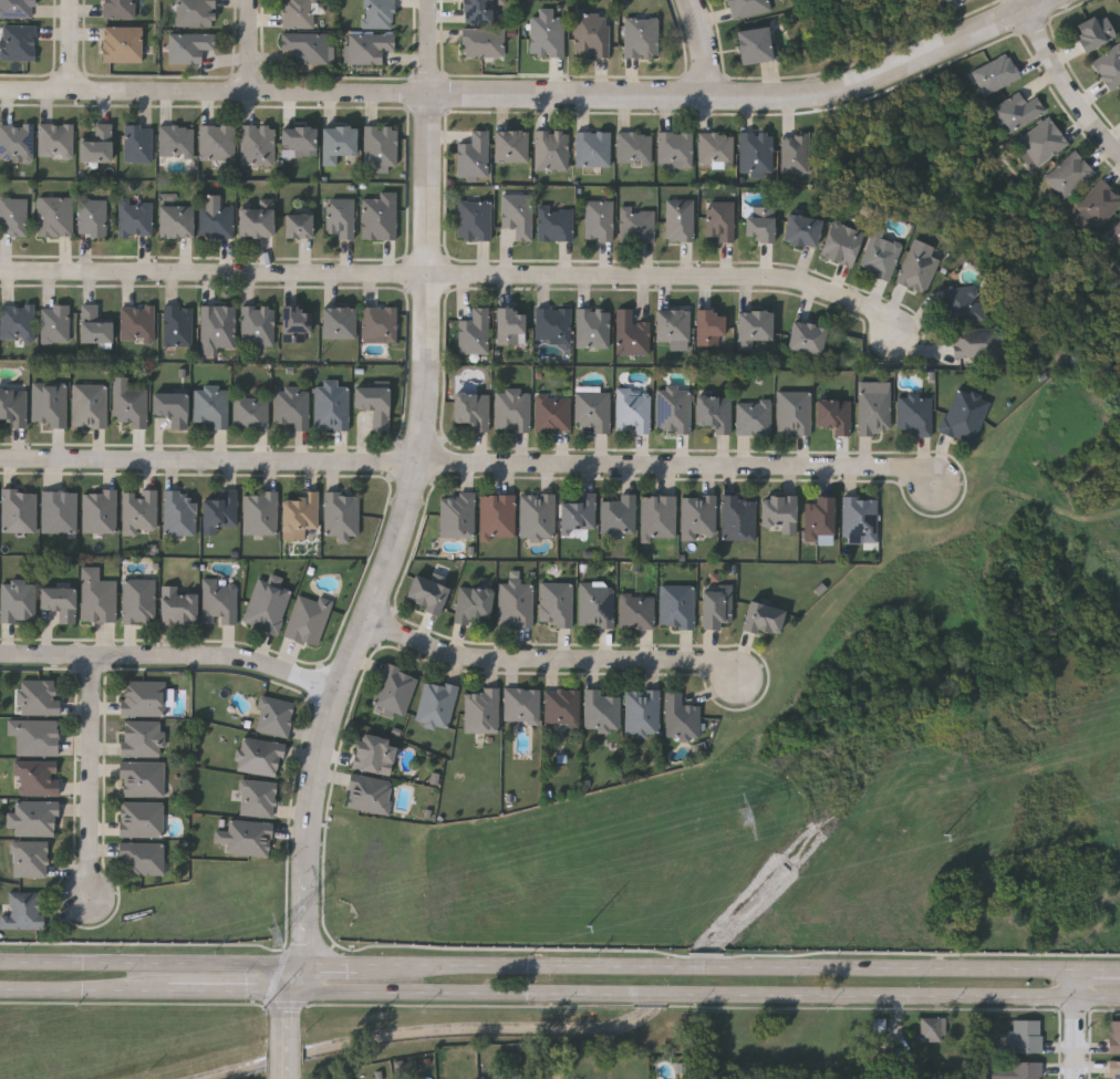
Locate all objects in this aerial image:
building: (954, 2)
building: (746, 7)
building: (17, 8)
building: (120, 8)
building: (477, 10)
building: (195, 12)
building: (299, 13)
building: (377, 13)
building: (591, 32)
building: (1095, 32)
building: (547, 35)
building: (641, 37)
building: (19, 41)
building: (483, 41)
building: (121, 42)
building: (754, 43)
building: (188, 45)
building: (307, 45)
road: (251, 46)
building: (367, 46)
road: (76, 49)
road: (708, 49)
building: (1109, 66)
building: (995, 74)
road: (1067, 81)
building: (1119, 94)
road: (537, 98)
building: (1016, 112)
road: (431, 136)
building: (298, 137)
building: (55, 139)
building: (176, 139)
building: (15, 141)
building: (217, 141)
building: (138, 142)
building: (336, 142)
building: (96, 143)
building: (258, 143)
building: (1040, 143)
building: (381, 145)
building: (511, 145)
building: (634, 146)
building: (674, 146)
building: (593, 147)
building: (552, 148)
building: (715, 148)
building: (756, 151)
building: (795, 151)
building: (473, 154)
building: (1068, 174)
building: (1098, 203)
building: (518, 214)
building: (13, 215)
building: (55, 215)
building: (378, 215)
building: (92, 216)
building: (135, 216)
building: (340, 216)
building: (474, 218)
building: (598, 218)
building: (680, 218)
building: (720, 218)
building: (176, 219)
building: (216, 219)
building: (256, 221)
building: (759, 221)
building: (556, 222)
building: (636, 222)
building: (298, 224)
building: (800, 228)
building: (1114, 232)
building: (840, 241)
building: (879, 253)
building: (916, 268)
road: (456, 274)
building: (962, 302)
building: (18, 321)
building: (339, 321)
building: (54, 322)
building: (137, 322)
building: (295, 322)
building: (378, 322)
building: (178, 323)
building: (258, 323)
building: (673, 323)
building: (93, 324)
building: (510, 324)
building: (552, 324)
building: (216, 326)
building: (592, 326)
building: (709, 326)
building: (753, 326)
building: (475, 330)
building: (631, 333)
building: (806, 335)
building: (975, 341)
building: (49, 403)
building: (374, 403)
building: (90, 404)
building: (13, 405)
building: (131, 405)
building: (211, 405)
building: (292, 405)
building: (331, 405)
building: (172, 406)
building: (470, 408)
building: (512, 409)
building: (592, 409)
building: (673, 409)
building: (251, 411)
building: (552, 411)
building: (633, 411)
building: (795, 411)
building: (874, 411)
building: (714, 412)
building: (914, 412)
building: (833, 413)
building: (965, 414)
building: (753, 416)
road: (469, 464)
building: (20, 509)
building: (100, 509)
building: (220, 509)
building: (60, 510)
building: (139, 510)
building: (179, 511)
building: (260, 511)
building: (779, 511)
building: (579, 512)
building: (301, 513)
building: (341, 513)
building: (457, 513)
building: (497, 515)
building: (537, 515)
building: (619, 515)
building: (658, 515)
building: (698, 515)
building: (738, 516)
building: (819, 517)
building: (860, 517)
building: (426, 593)
building: (96, 594)
building: (18, 600)
building: (139, 600)
building: (60, 601)
building: (218, 601)
building: (267, 602)
building: (473, 602)
building: (516, 602)
building: (556, 603)
building: (177, 604)
building: (597, 604)
building: (676, 605)
building: (716, 605)
building: (636, 611)
building: (308, 618)
building: (763, 618)
road: (367, 619)
road: (172, 656)
road: (554, 660)
building: (395, 687)
building: (39, 695)
building: (143, 697)
building: (436, 703)
building: (521, 704)
building: (561, 705)
building: (481, 709)
building: (601, 709)
building: (642, 712)
building: (274, 714)
building: (681, 717)
building: (35, 735)
building: (142, 736)
building: (374, 753)
building: (260, 755)
building: (37, 777)
building: (142, 777)
road: (93, 781)
building: (369, 792)
building: (257, 797)
building: (33, 817)
building: (141, 817)
power tower: (744, 818)
building: (246, 836)
building: (142, 857)
building: (30, 858)
building: (24, 910)
road: (152, 961)
road: (331, 963)
road: (716, 966)
road: (1098, 968)
road: (295, 975)
road: (278, 976)
road: (84, 987)
road: (229, 988)
road: (704, 992)
road: (288, 1003)
road: (1076, 1024)
road: (477, 1027)
building: (932, 1027)
building: (881, 1030)
road: (287, 1033)
building: (1027, 1036)
building: (1114, 1038)
building: (1026, 1070)
building: (1116, 1070)

